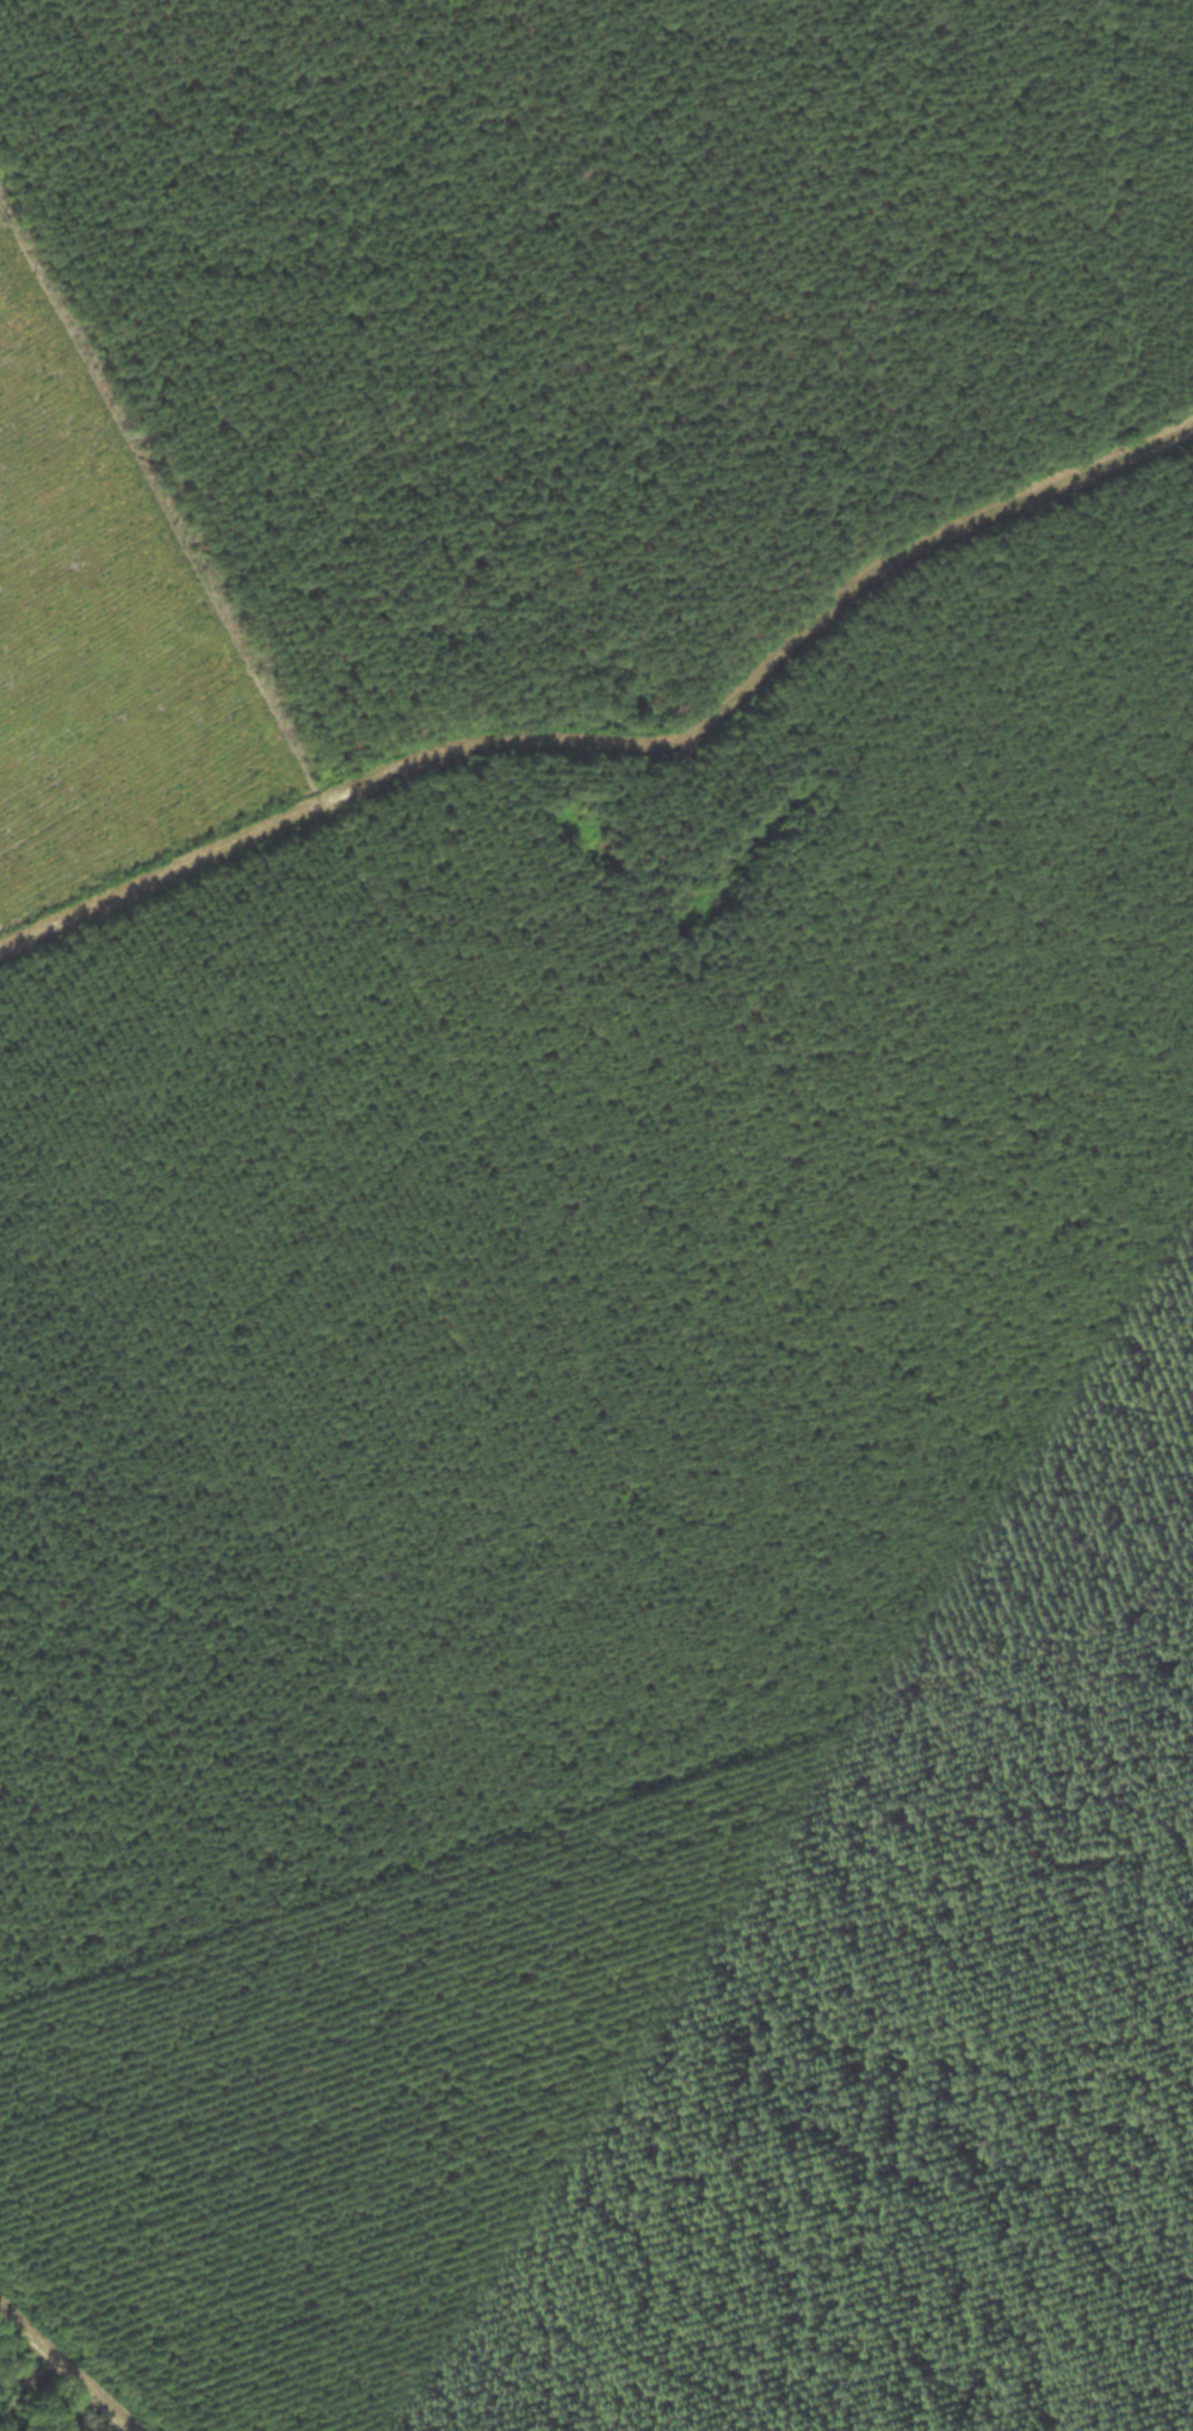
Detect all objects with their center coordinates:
road: (626, 767)
road: (64, 2375)

